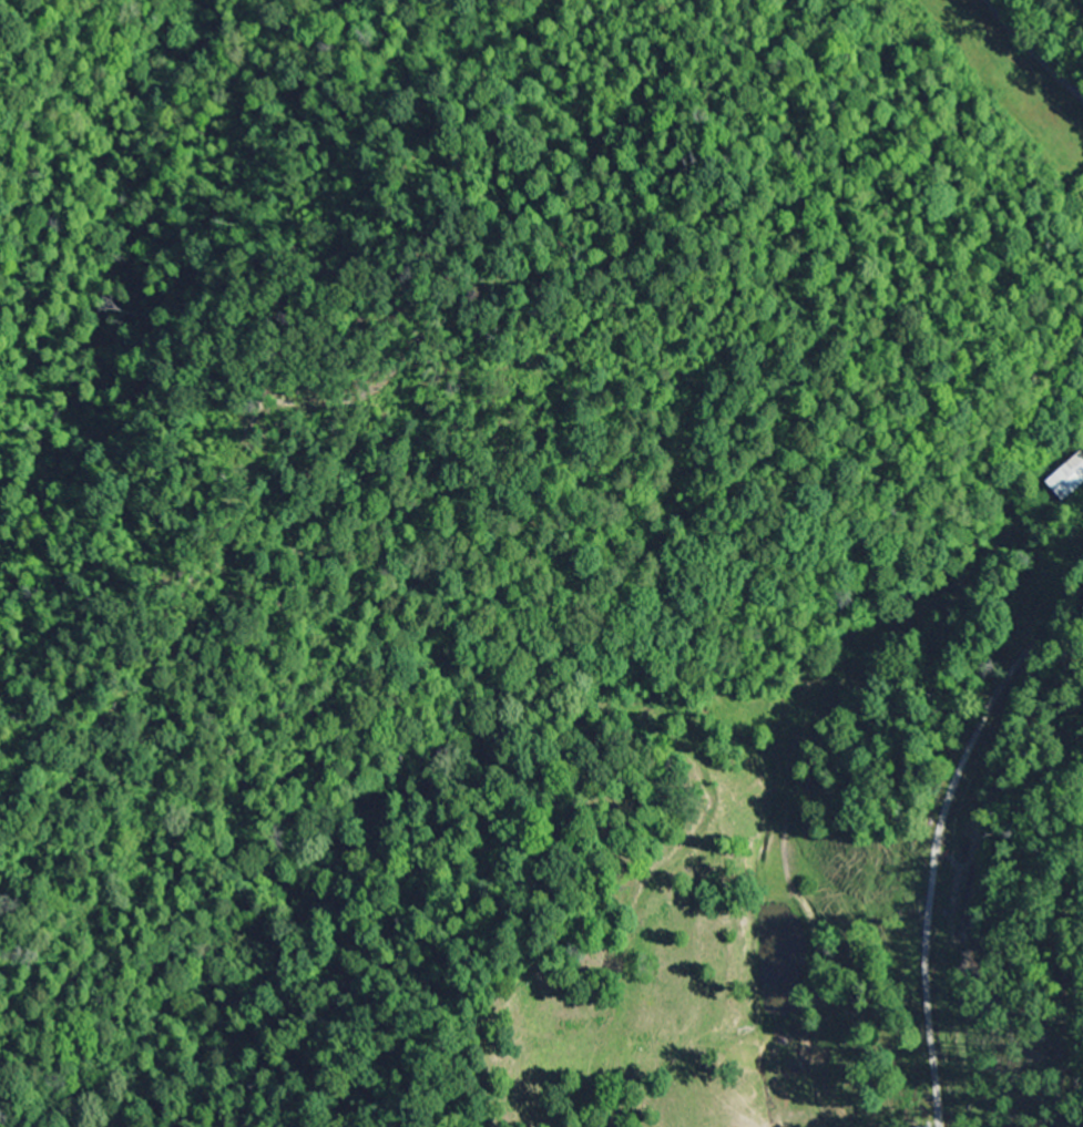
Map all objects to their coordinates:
road: (1031, 50)
road: (939, 838)

